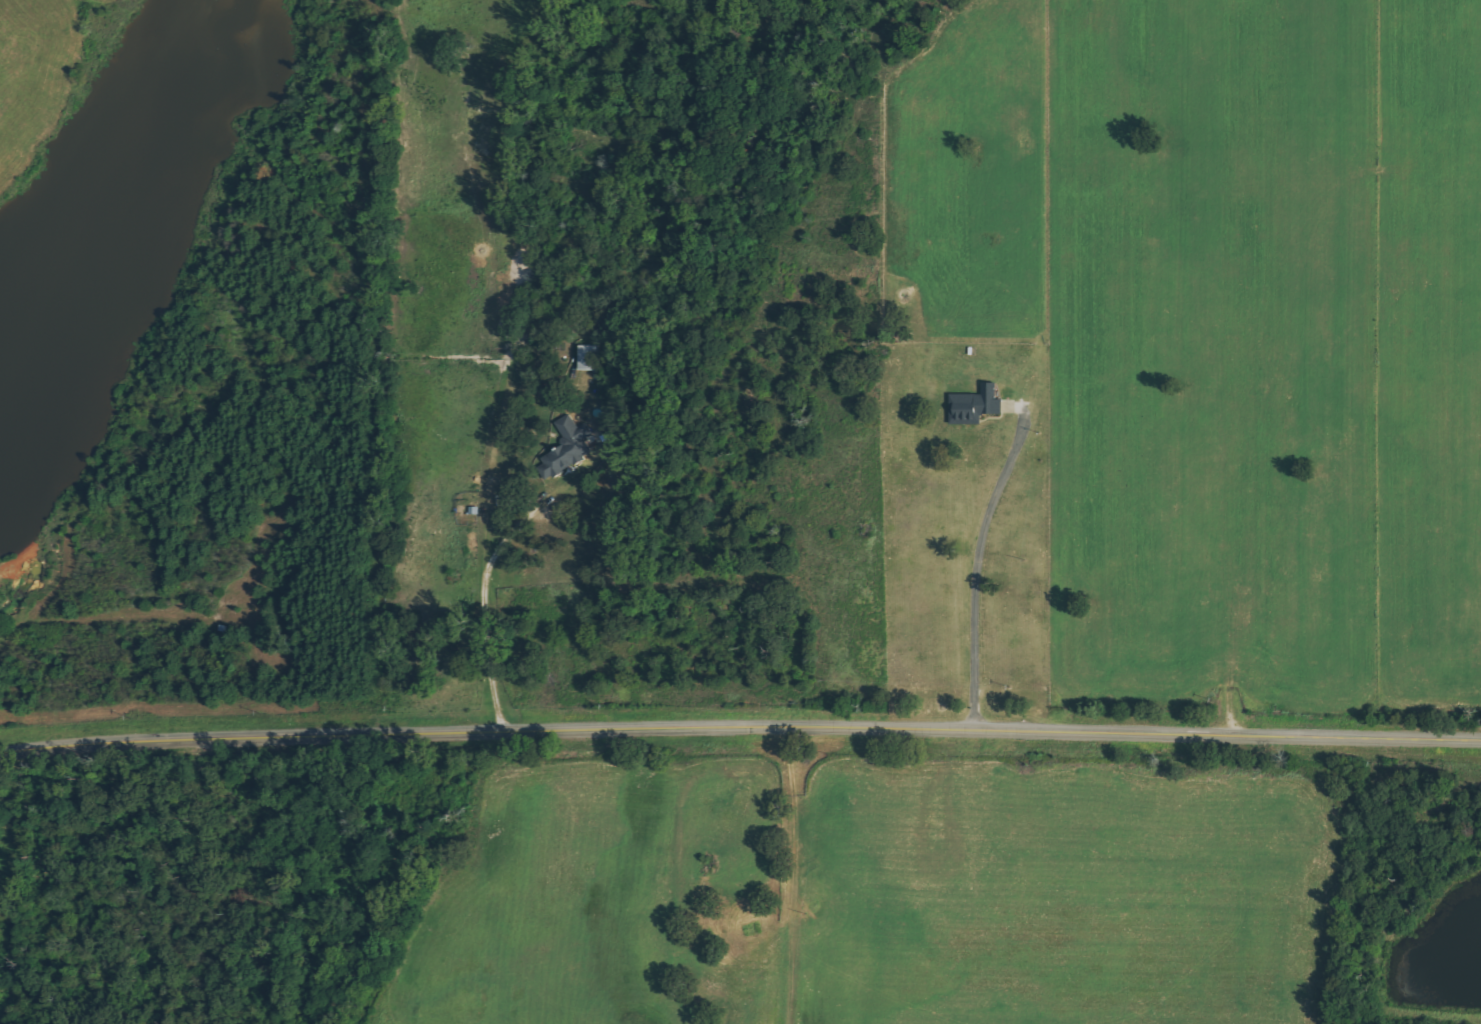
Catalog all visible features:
building: (588, 357)
building: (974, 405)
building: (566, 448)
road: (740, 728)

